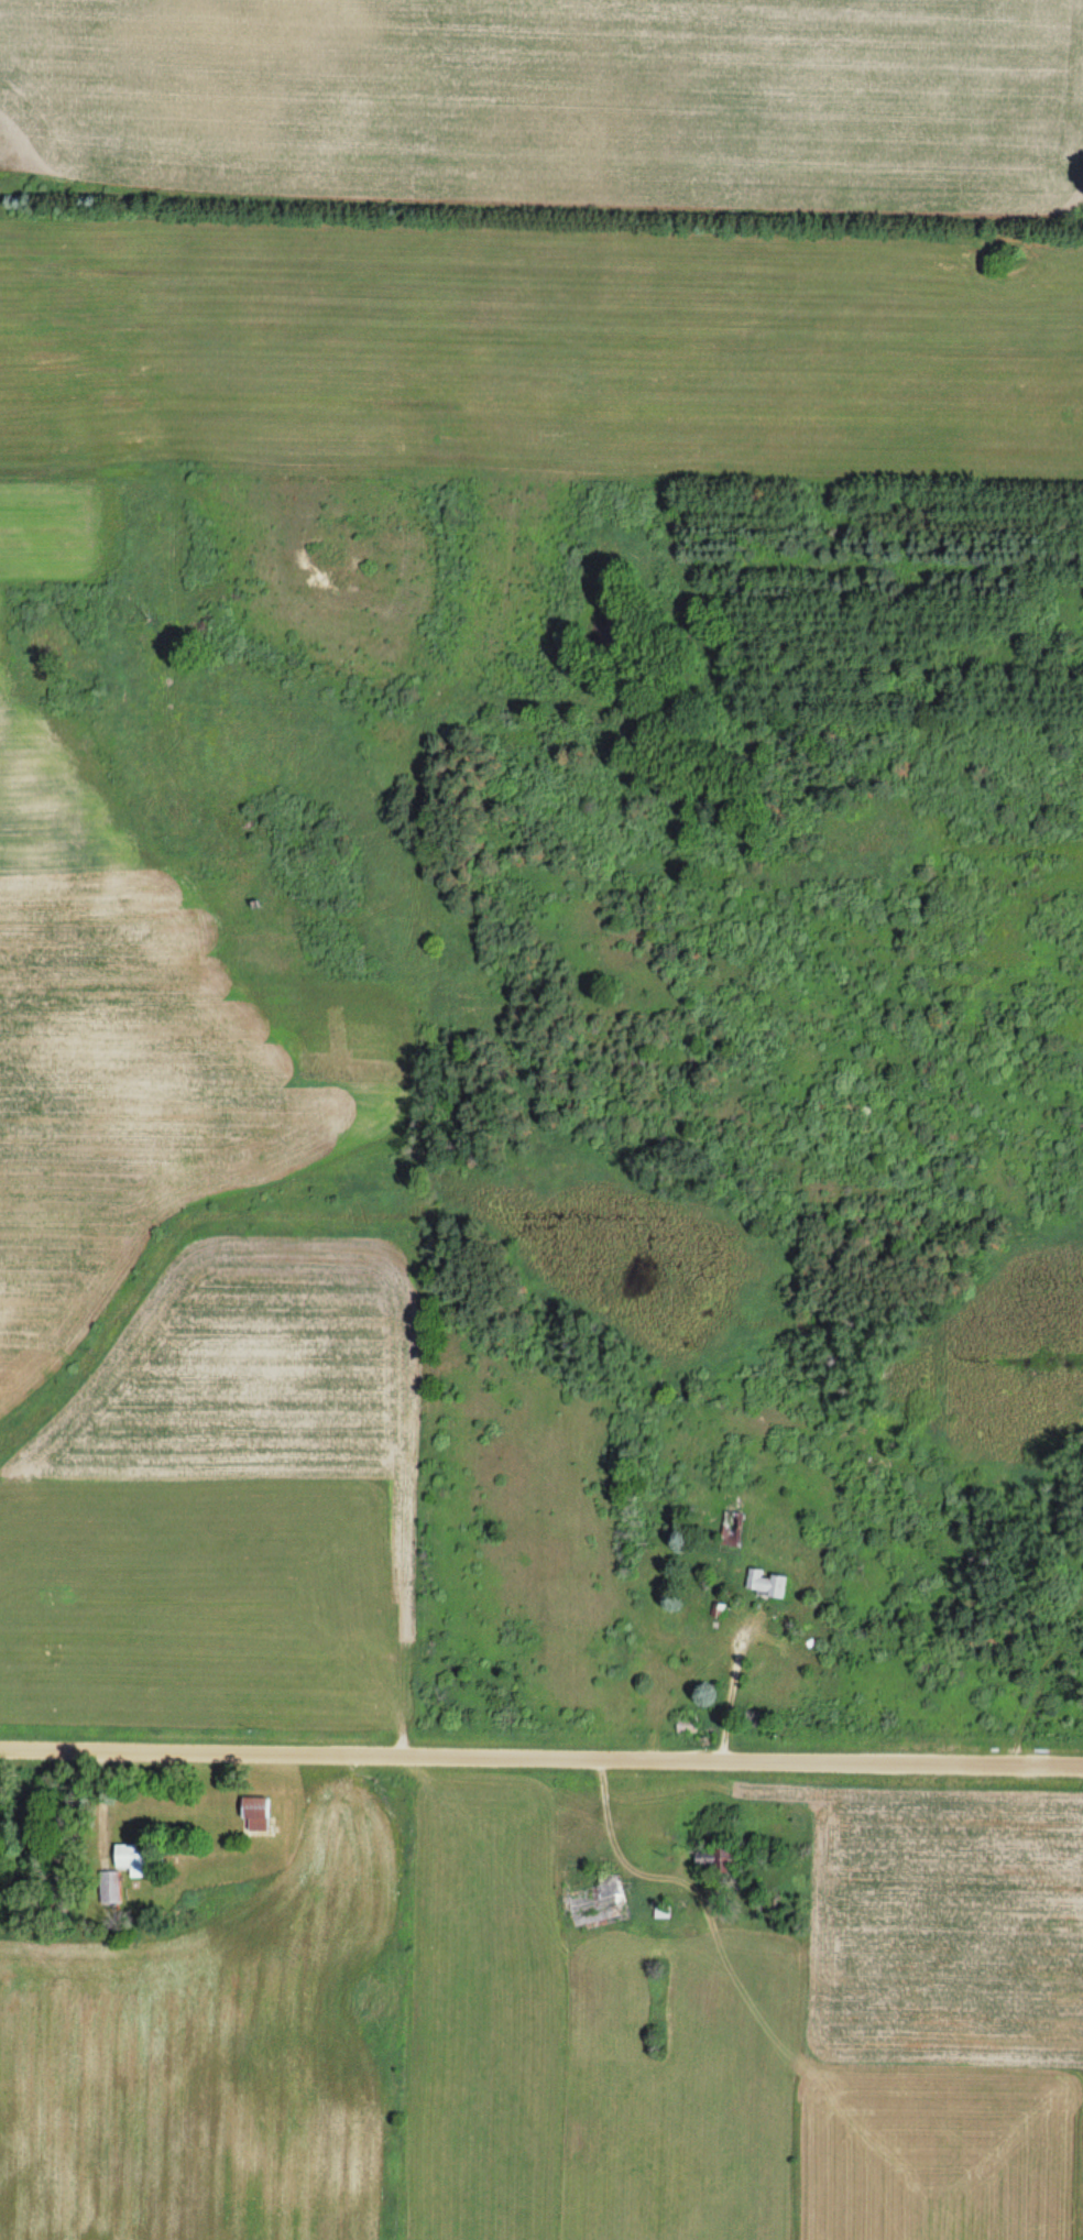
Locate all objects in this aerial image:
building: (731, 1530)
building: (765, 1584)
road: (541, 1756)
building: (254, 1813)
building: (721, 1856)
building: (109, 1887)
building: (595, 1895)

